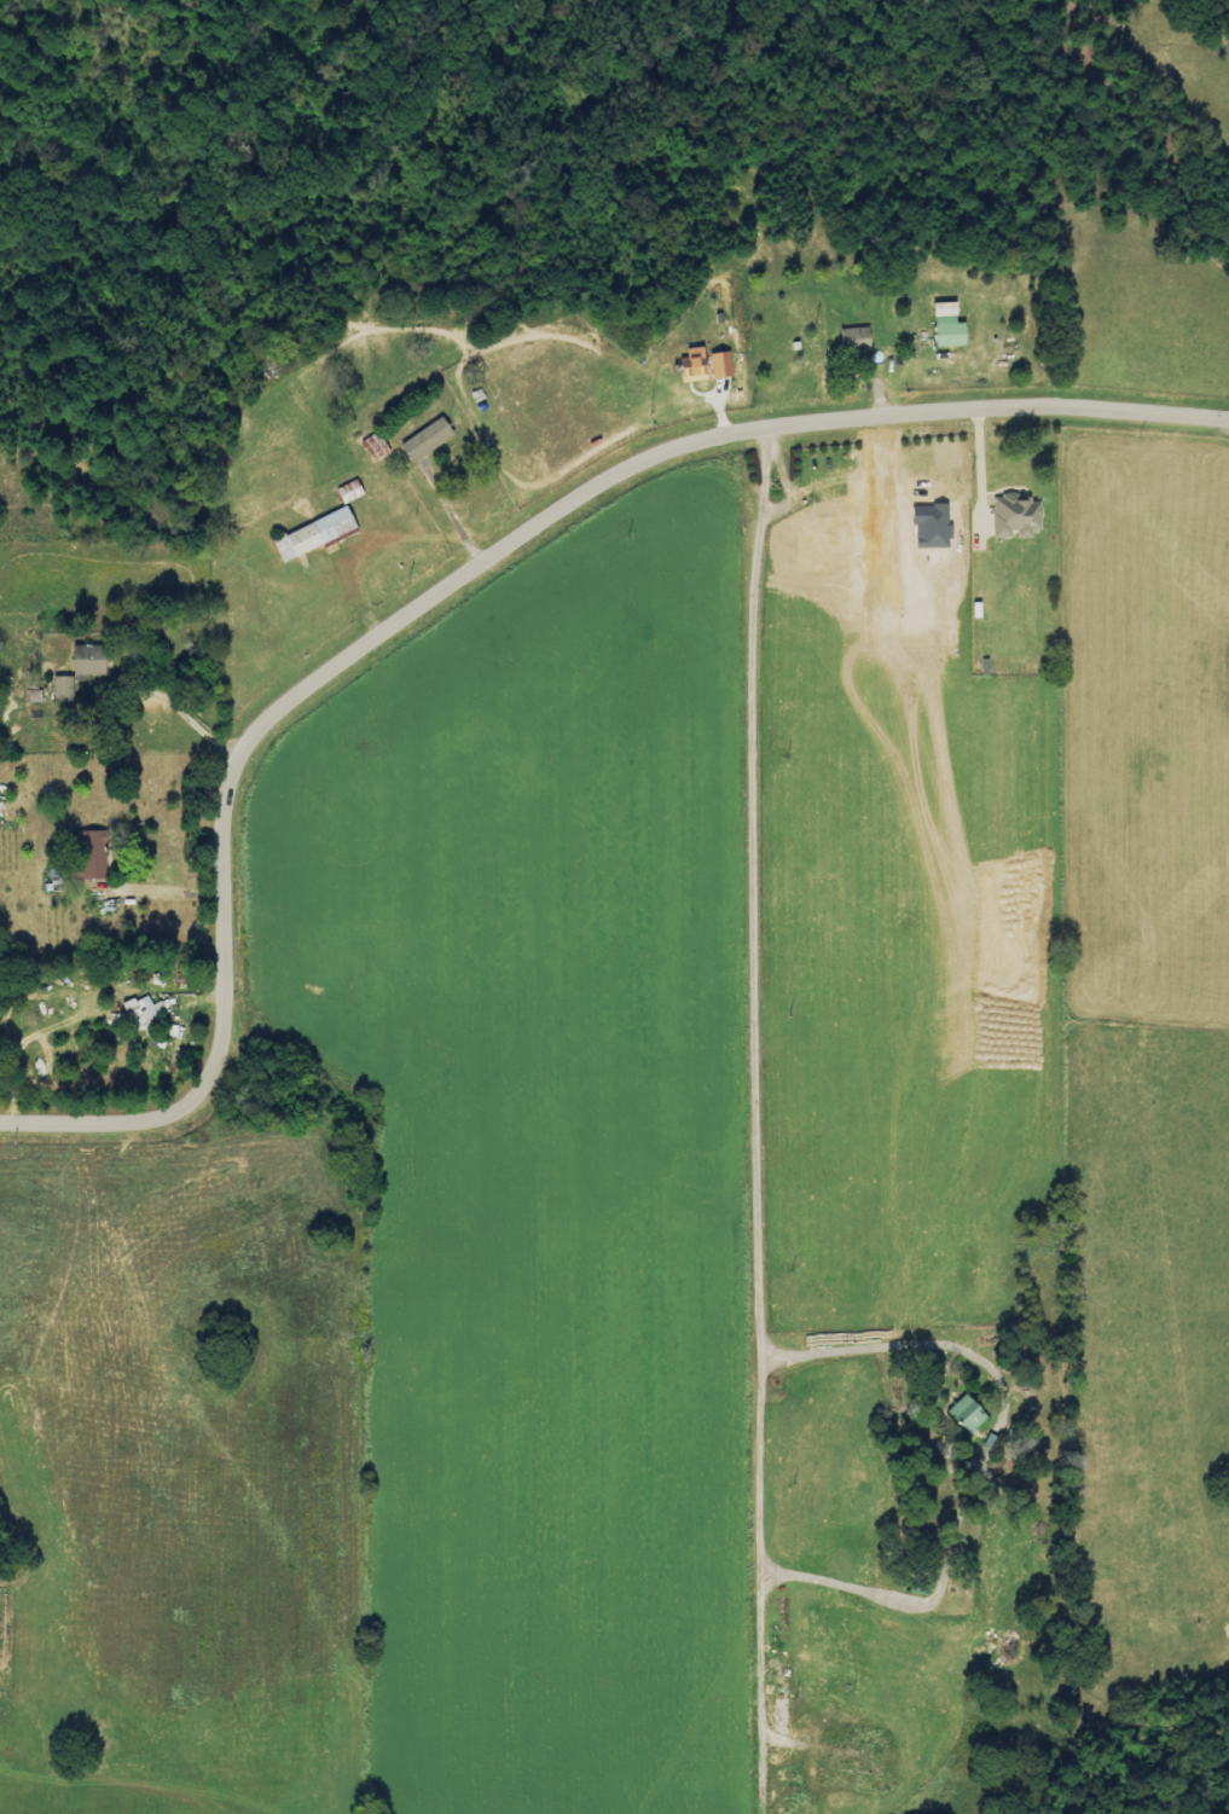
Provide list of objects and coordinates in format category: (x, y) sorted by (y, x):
building: (950, 326)
building: (856, 338)
building: (694, 365)
building: (721, 366)
building: (428, 440)
building: (1018, 516)
building: (315, 534)
road: (448, 591)
building: (92, 660)
building: (68, 685)
building: (93, 856)
building: (145, 1012)
building: (968, 1414)

